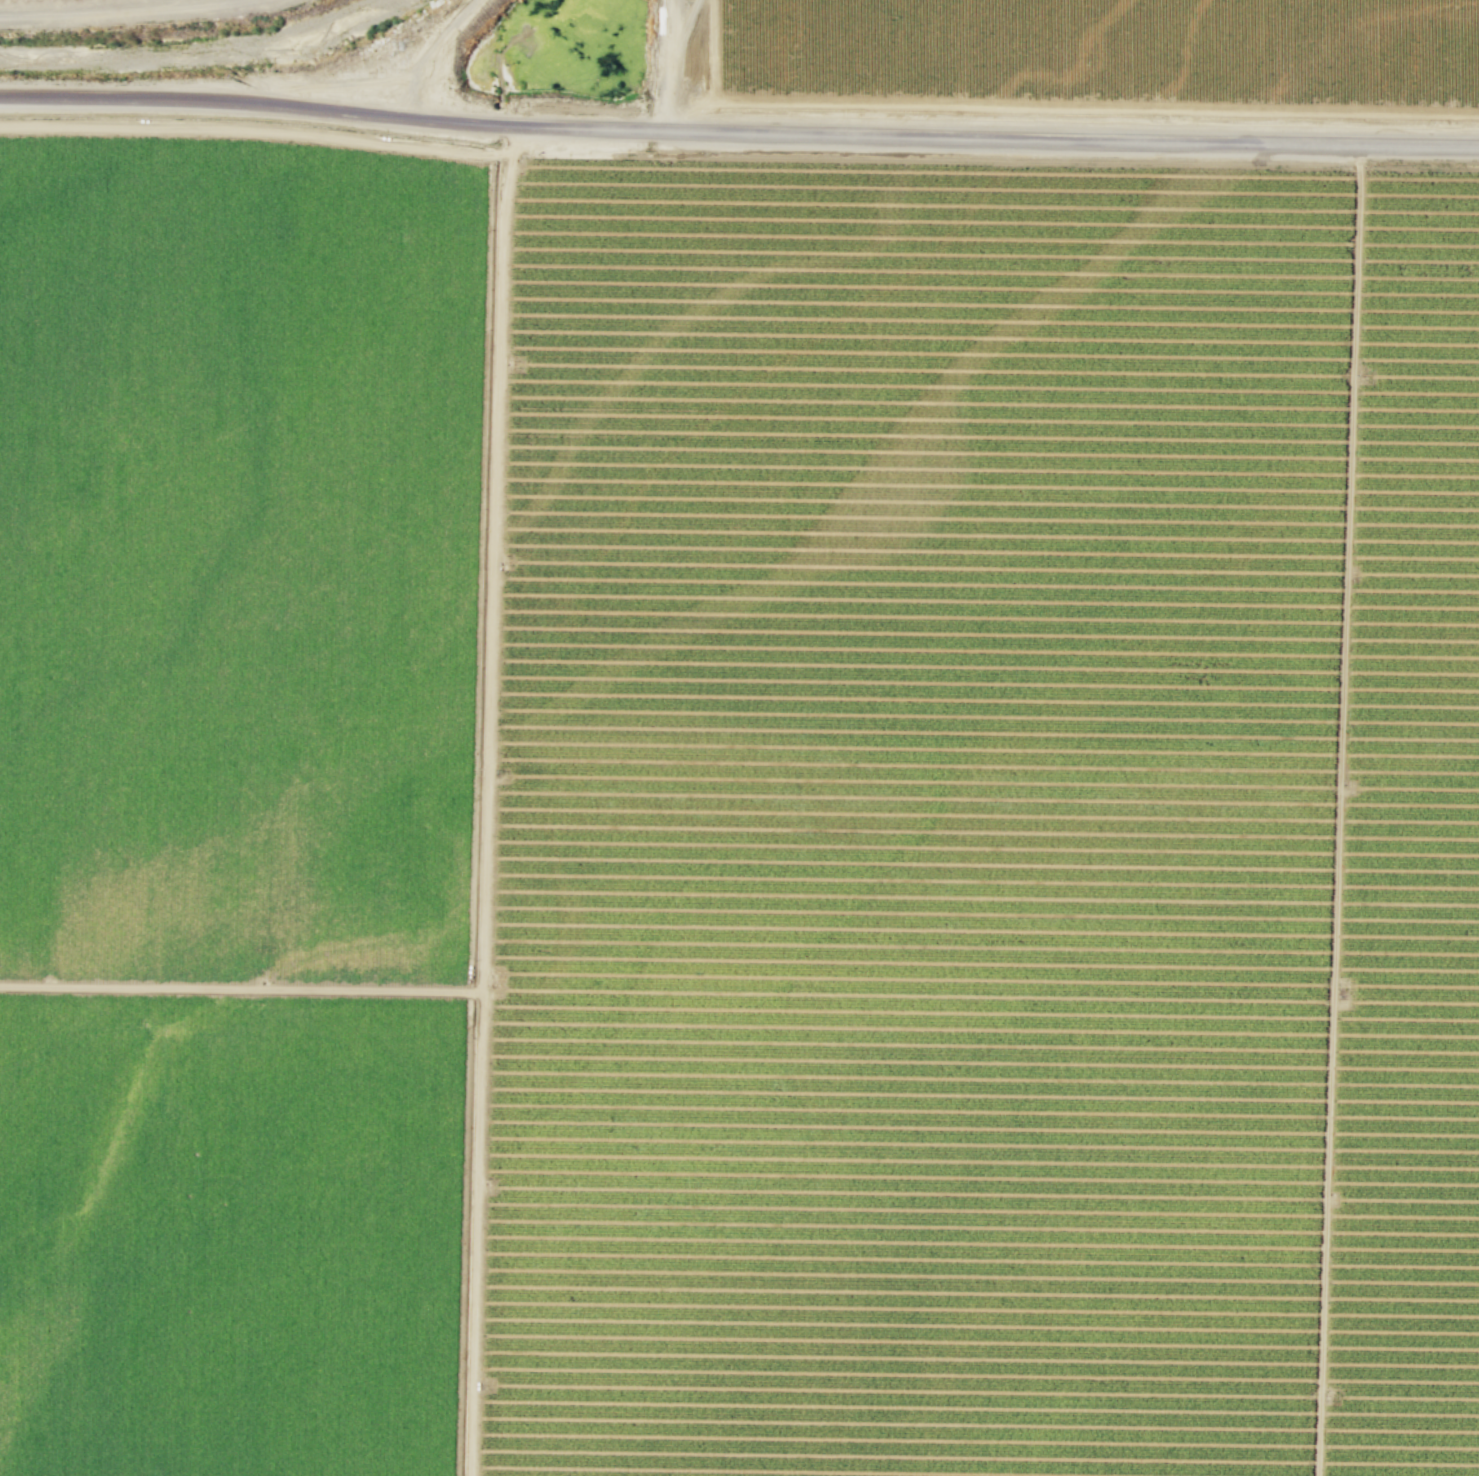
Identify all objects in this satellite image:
road: (248, 0)
road: (127, 10)
road: (429, 50)
road: (670, 65)
road: (341, 82)
road: (1073, 107)
road: (256, 128)
road: (738, 129)
road: (479, 572)
road: (486, 799)
road: (1336, 810)
road: (240, 987)
road: (462, 1234)

